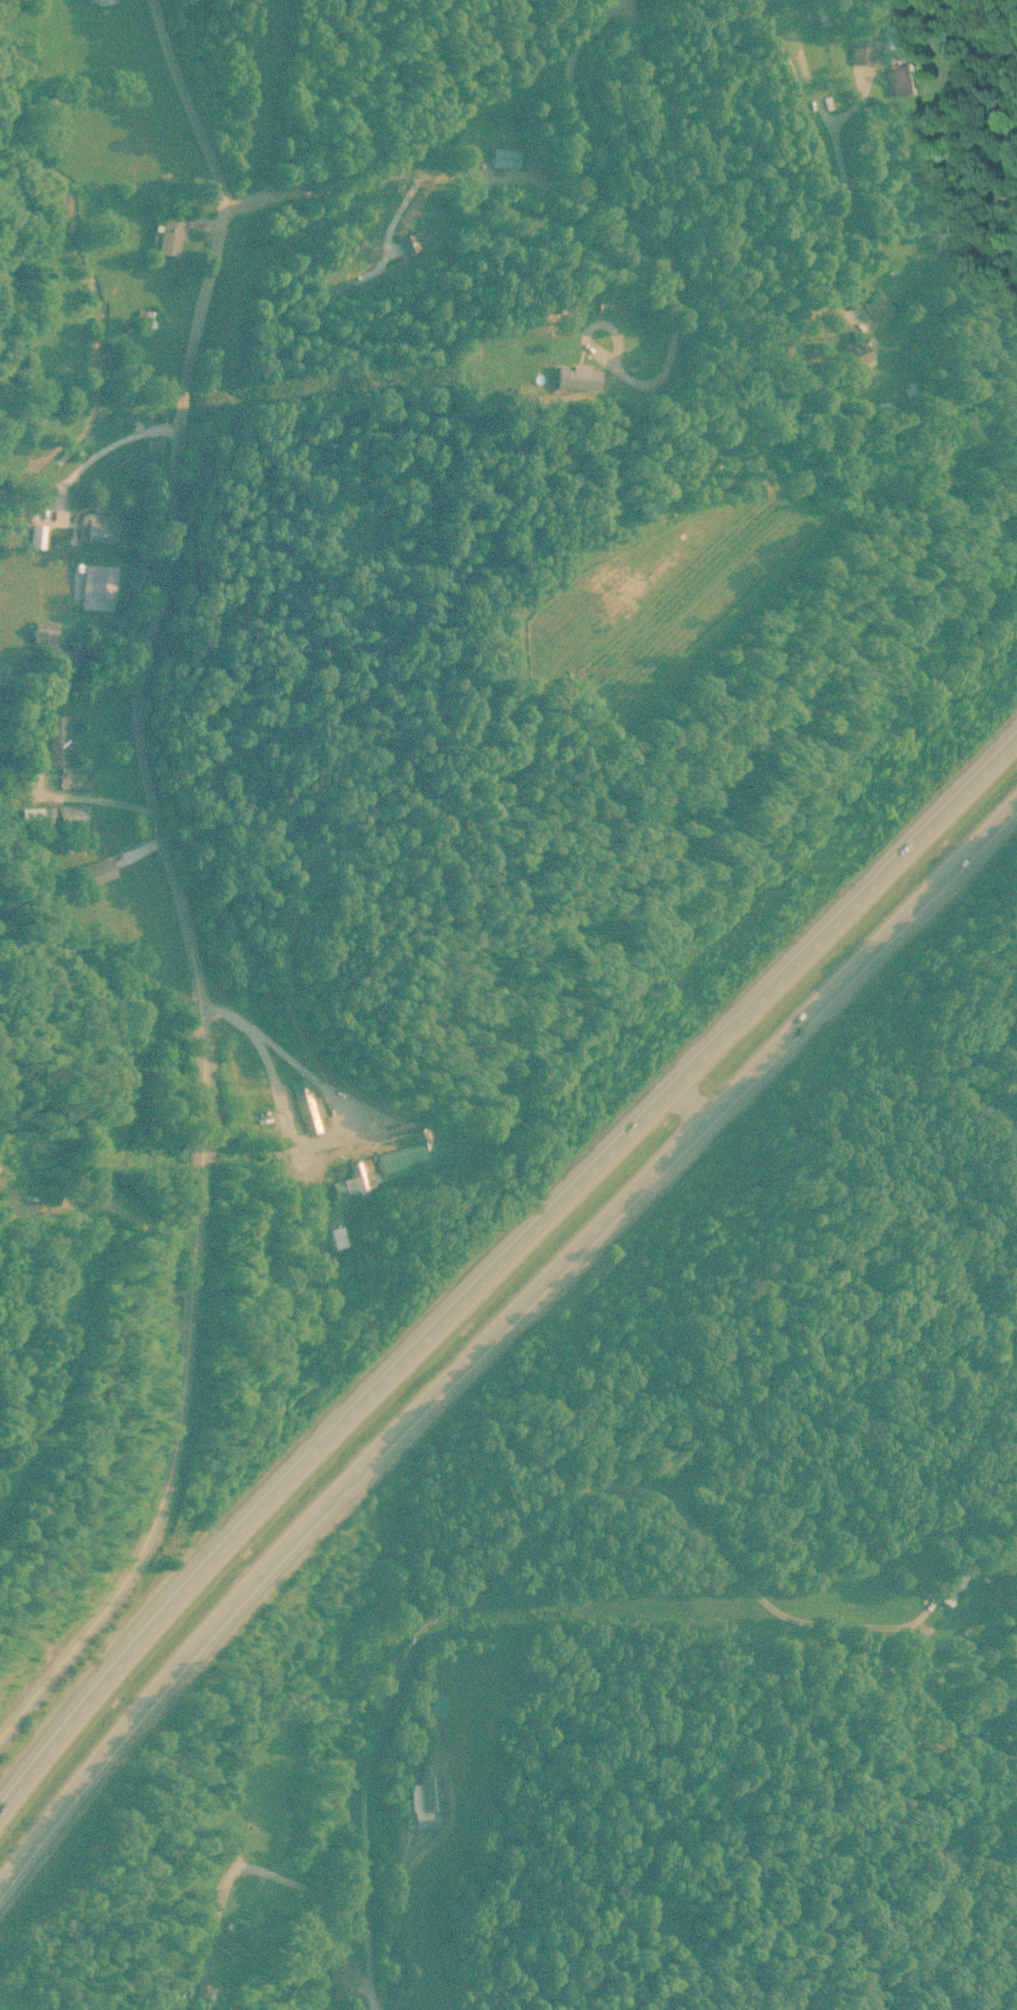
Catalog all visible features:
building: (98, 1)
building: (859, 51)
building: (900, 80)
road: (187, 99)
building: (502, 156)
road: (483, 165)
building: (168, 234)
building: (876, 306)
building: (144, 318)
road: (199, 326)
building: (846, 354)
building: (571, 380)
road: (101, 446)
building: (96, 525)
building: (35, 535)
building: (43, 630)
building: (55, 740)
building: (52, 816)
building: (93, 871)
road: (279, 1090)
building: (305, 1104)
road: (201, 1115)
building: (353, 1178)
road: (496, 1251)
road: (500, 1336)
building: (954, 1583)
building: (438, 1704)
building: (428, 1798)
building: (226, 1941)
road: (369, 1965)
building: (338, 1968)
building: (204, 1990)

